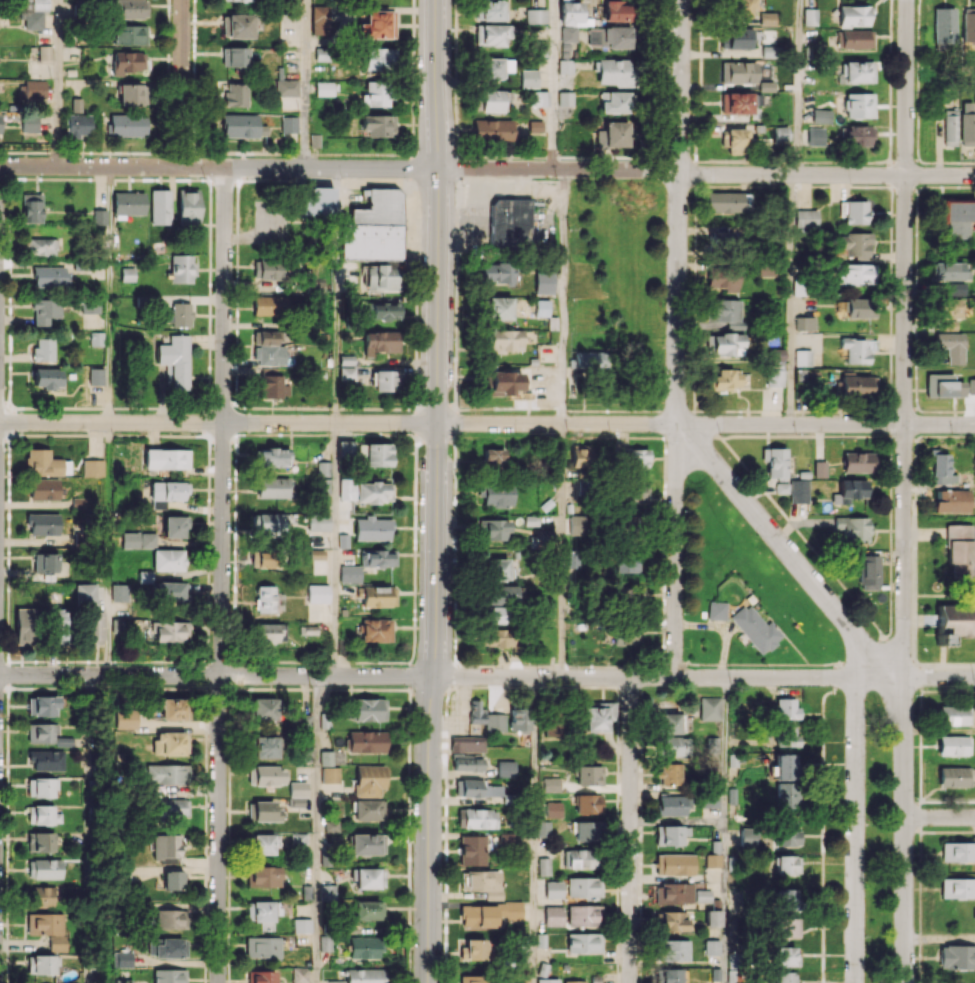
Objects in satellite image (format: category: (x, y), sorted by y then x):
building: (235, 0)
building: (39, 5)
building: (739, 8)
building: (129, 9)
building: (489, 10)
building: (615, 11)
building: (569, 13)
building: (853, 15)
building: (534, 16)
building: (809, 16)
building: (766, 18)
building: (33, 20)
building: (319, 20)
building: (237, 25)
building: (377, 25)
building: (969, 25)
building: (944, 26)
building: (129, 34)
building: (491, 34)
building: (567, 34)
building: (609, 36)
building: (735, 38)
building: (853, 38)
building: (44, 52)
building: (320, 55)
building: (235, 56)
building: (377, 58)
building: (128, 62)
building: (564, 67)
building: (490, 68)
building: (856, 71)
building: (612, 72)
building: (737, 72)
building: (528, 78)
road: (57, 83)
road: (182, 83)
road: (307, 84)
road: (554, 84)
building: (286, 87)
road: (796, 87)
building: (324, 88)
building: (33, 89)
building: (132, 94)
building: (235, 94)
building: (375, 94)
building: (538, 98)
building: (564, 98)
building: (491, 100)
building: (613, 101)
building: (739, 102)
building: (75, 105)
building: (858, 105)
building: (821, 116)
building: (28, 124)
building: (289, 124)
building: (967, 124)
building: (77, 125)
building: (128, 125)
building: (239, 125)
building: (377, 125)
building: (950, 127)
building: (492, 130)
building: (780, 133)
building: (613, 135)
building: (857, 135)
building: (815, 136)
building: (734, 140)
road: (487, 168)
building: (316, 201)
building: (723, 201)
building: (128, 203)
building: (160, 206)
building: (188, 206)
building: (31, 207)
building: (853, 211)
building: (99, 216)
building: (806, 217)
building: (959, 218)
building: (510, 223)
building: (373, 227)
building: (722, 239)
building: (854, 244)
building: (41, 246)
building: (181, 269)
building: (267, 269)
building: (766, 269)
building: (950, 271)
building: (496, 272)
building: (127, 274)
building: (856, 274)
building: (49, 276)
building: (382, 277)
building: (722, 279)
building: (543, 282)
building: (315, 286)
building: (956, 289)
road: (109, 294)
road: (337, 295)
road: (563, 296)
road: (789, 298)
building: (90, 305)
building: (270, 305)
building: (541, 307)
building: (498, 308)
building: (859, 308)
building: (948, 308)
building: (45, 310)
building: (385, 310)
building: (724, 311)
building: (178, 314)
building: (805, 323)
building: (948, 325)
building: (97, 338)
road: (438, 338)
road: (905, 338)
building: (505, 340)
building: (381, 341)
building: (724, 343)
building: (950, 346)
building: (268, 348)
building: (43, 349)
building: (858, 349)
building: (776, 354)
building: (802, 357)
building: (345, 359)
building: (588, 359)
building: (175, 361)
road: (676, 371)
building: (346, 373)
building: (805, 375)
building: (774, 377)
building: (47, 379)
building: (725, 379)
building: (384, 380)
building: (503, 382)
building: (856, 385)
building: (943, 385)
building: (273, 386)
road: (487, 423)
building: (345, 446)
building: (374, 454)
building: (272, 457)
building: (492, 457)
building: (580, 457)
building: (637, 458)
building: (166, 459)
building: (775, 462)
building: (858, 462)
building: (45, 463)
building: (92, 467)
building: (323, 468)
building: (819, 469)
building: (941, 469)
building: (274, 487)
building: (781, 488)
building: (44, 489)
building: (852, 490)
building: (364, 491)
building: (798, 491)
building: (166, 493)
building: (496, 494)
building: (636, 494)
building: (951, 501)
building: (318, 521)
building: (627, 521)
building: (43, 524)
building: (270, 524)
building: (577, 524)
building: (175, 526)
building: (372, 528)
building: (853, 528)
building: (493, 529)
building: (138, 539)
road: (107, 548)
road: (337, 549)
road: (561, 550)
building: (959, 550)
road: (677, 551)
building: (316, 554)
building: (377, 557)
building: (262, 558)
building: (572, 558)
building: (168, 560)
building: (626, 563)
building: (46, 565)
building: (496, 569)
building: (869, 572)
building: (349, 573)
road: (223, 575)
building: (144, 576)
building: (171, 590)
building: (119, 592)
building: (317, 593)
building: (85, 594)
building: (629, 595)
building: (377, 596)
building: (264, 599)
building: (498, 602)
building: (716, 610)
building: (954, 621)
building: (24, 626)
building: (59, 626)
building: (116, 626)
building: (94, 627)
building: (755, 628)
building: (375, 630)
building: (169, 631)
building: (269, 633)
building: (627, 634)
building: (498, 637)
road: (216, 675)
road: (645, 678)
road: (880, 678)
road: (939, 678)
building: (42, 706)
building: (264, 708)
building: (710, 708)
building: (173, 709)
building: (369, 709)
building: (786, 709)
building: (953, 715)
building: (596, 716)
building: (485, 717)
building: (124, 718)
building: (519, 719)
building: (304, 721)
building: (671, 723)
building: (552, 726)
building: (41, 733)
building: (788, 736)
building: (64, 741)
building: (366, 741)
building: (170, 743)
building: (467, 744)
building: (670, 745)
building: (953, 745)
building: (264, 747)
building: (330, 757)
building: (46, 759)
building: (467, 763)
building: (506, 768)
building: (166, 773)
building: (670, 773)
building: (329, 774)
building: (265, 775)
building: (588, 775)
building: (953, 777)
building: (369, 780)
building: (784, 781)
building: (551, 784)
building: (41, 787)
building: (476, 788)
building: (296, 794)
building: (710, 799)
building: (588, 804)
building: (672, 805)
building: (171, 807)
building: (553, 809)
building: (368, 810)
building: (262, 811)
building: (42, 814)
road: (940, 817)
building: (476, 818)
building: (331, 826)
building: (543, 827)
road: (88, 829)
road: (318, 829)
road: (428, 829)
road: (535, 830)
building: (587, 830)
road: (630, 830)
road: (726, 830)
road: (856, 830)
road: (905, 830)
building: (671, 834)
building: (786, 834)
building: (749, 835)
building: (298, 840)
building: (40, 841)
building: (264, 843)
building: (366, 843)
building: (165, 846)
building: (472, 850)
building: (958, 851)
building: (581, 858)
building: (712, 860)
building: (675, 864)
building: (788, 865)
building: (544, 866)
building: (44, 868)
building: (264, 876)
building: (368, 877)
building: (172, 880)
building: (482, 882)
building: (584, 887)
building: (953, 888)
building: (554, 889)
building: (673, 893)
building: (44, 896)
building: (786, 899)
building: (367, 910)
building: (262, 913)
building: (488, 913)
building: (553, 915)
building: (584, 915)
building: (713, 918)
building: (170, 919)
building: (672, 921)
building: (45, 924)
building: (302, 925)
building: (786, 927)
road: (940, 938)
building: (584, 942)
building: (58, 943)
building: (325, 943)
building: (262, 947)
building: (365, 947)
building: (711, 947)
building: (167, 948)
building: (473, 950)
building: (672, 950)
building: (785, 956)
building: (957, 957)
building: (121, 959)
building: (42, 964)
building: (300, 975)
building: (364, 975)
building: (671, 975)
building: (169, 976)
building: (261, 976)
building: (784, 977)
building: (477, 978)
building: (547, 980)
building: (122, 981)
building: (335, 981)
building: (574, 981)

